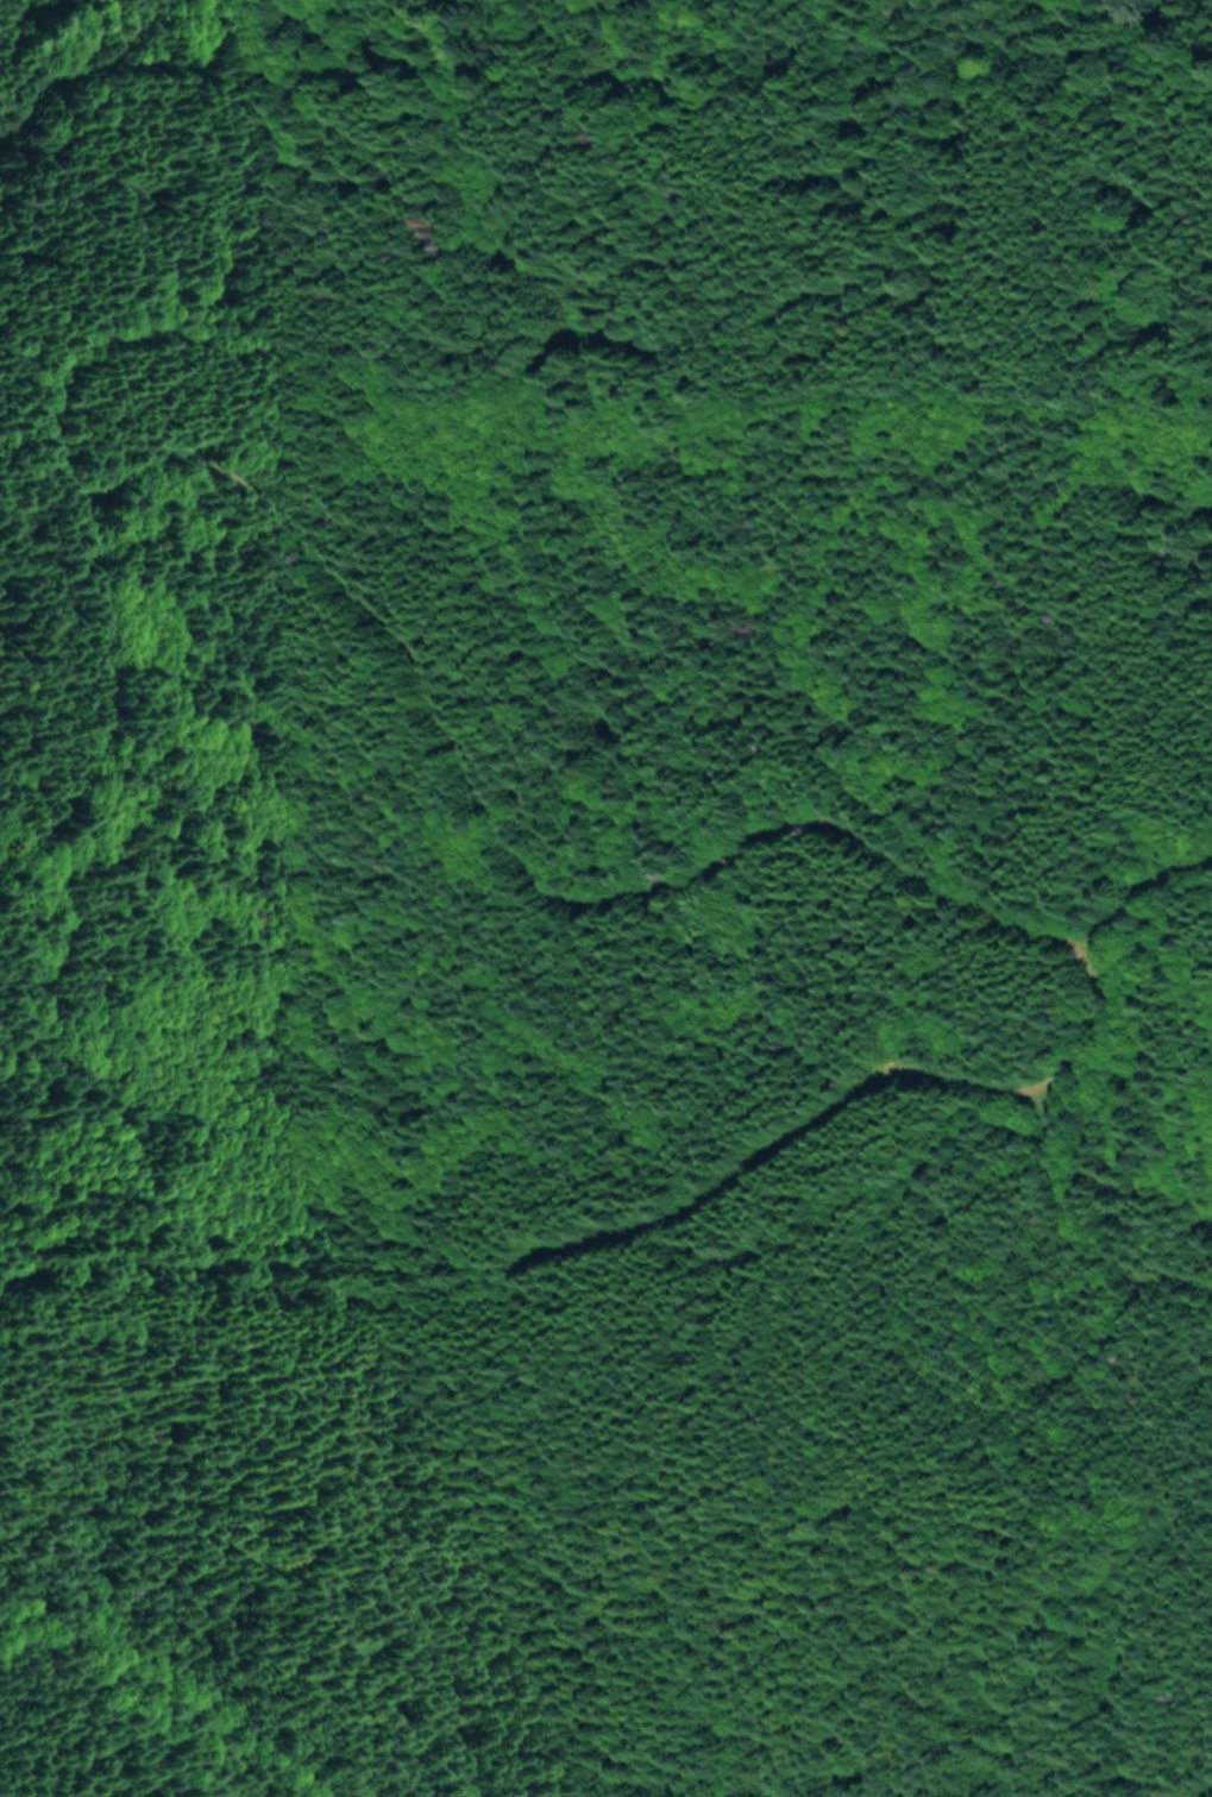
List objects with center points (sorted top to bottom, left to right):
road: (527, 401)
road: (29, 470)
road: (887, 806)

